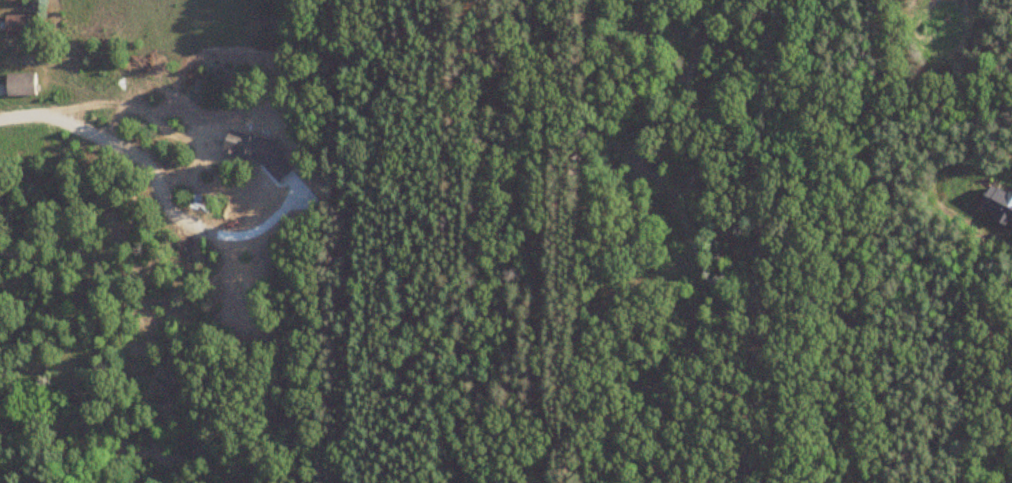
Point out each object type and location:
building: (20, 26)
building: (25, 85)
road: (155, 174)

